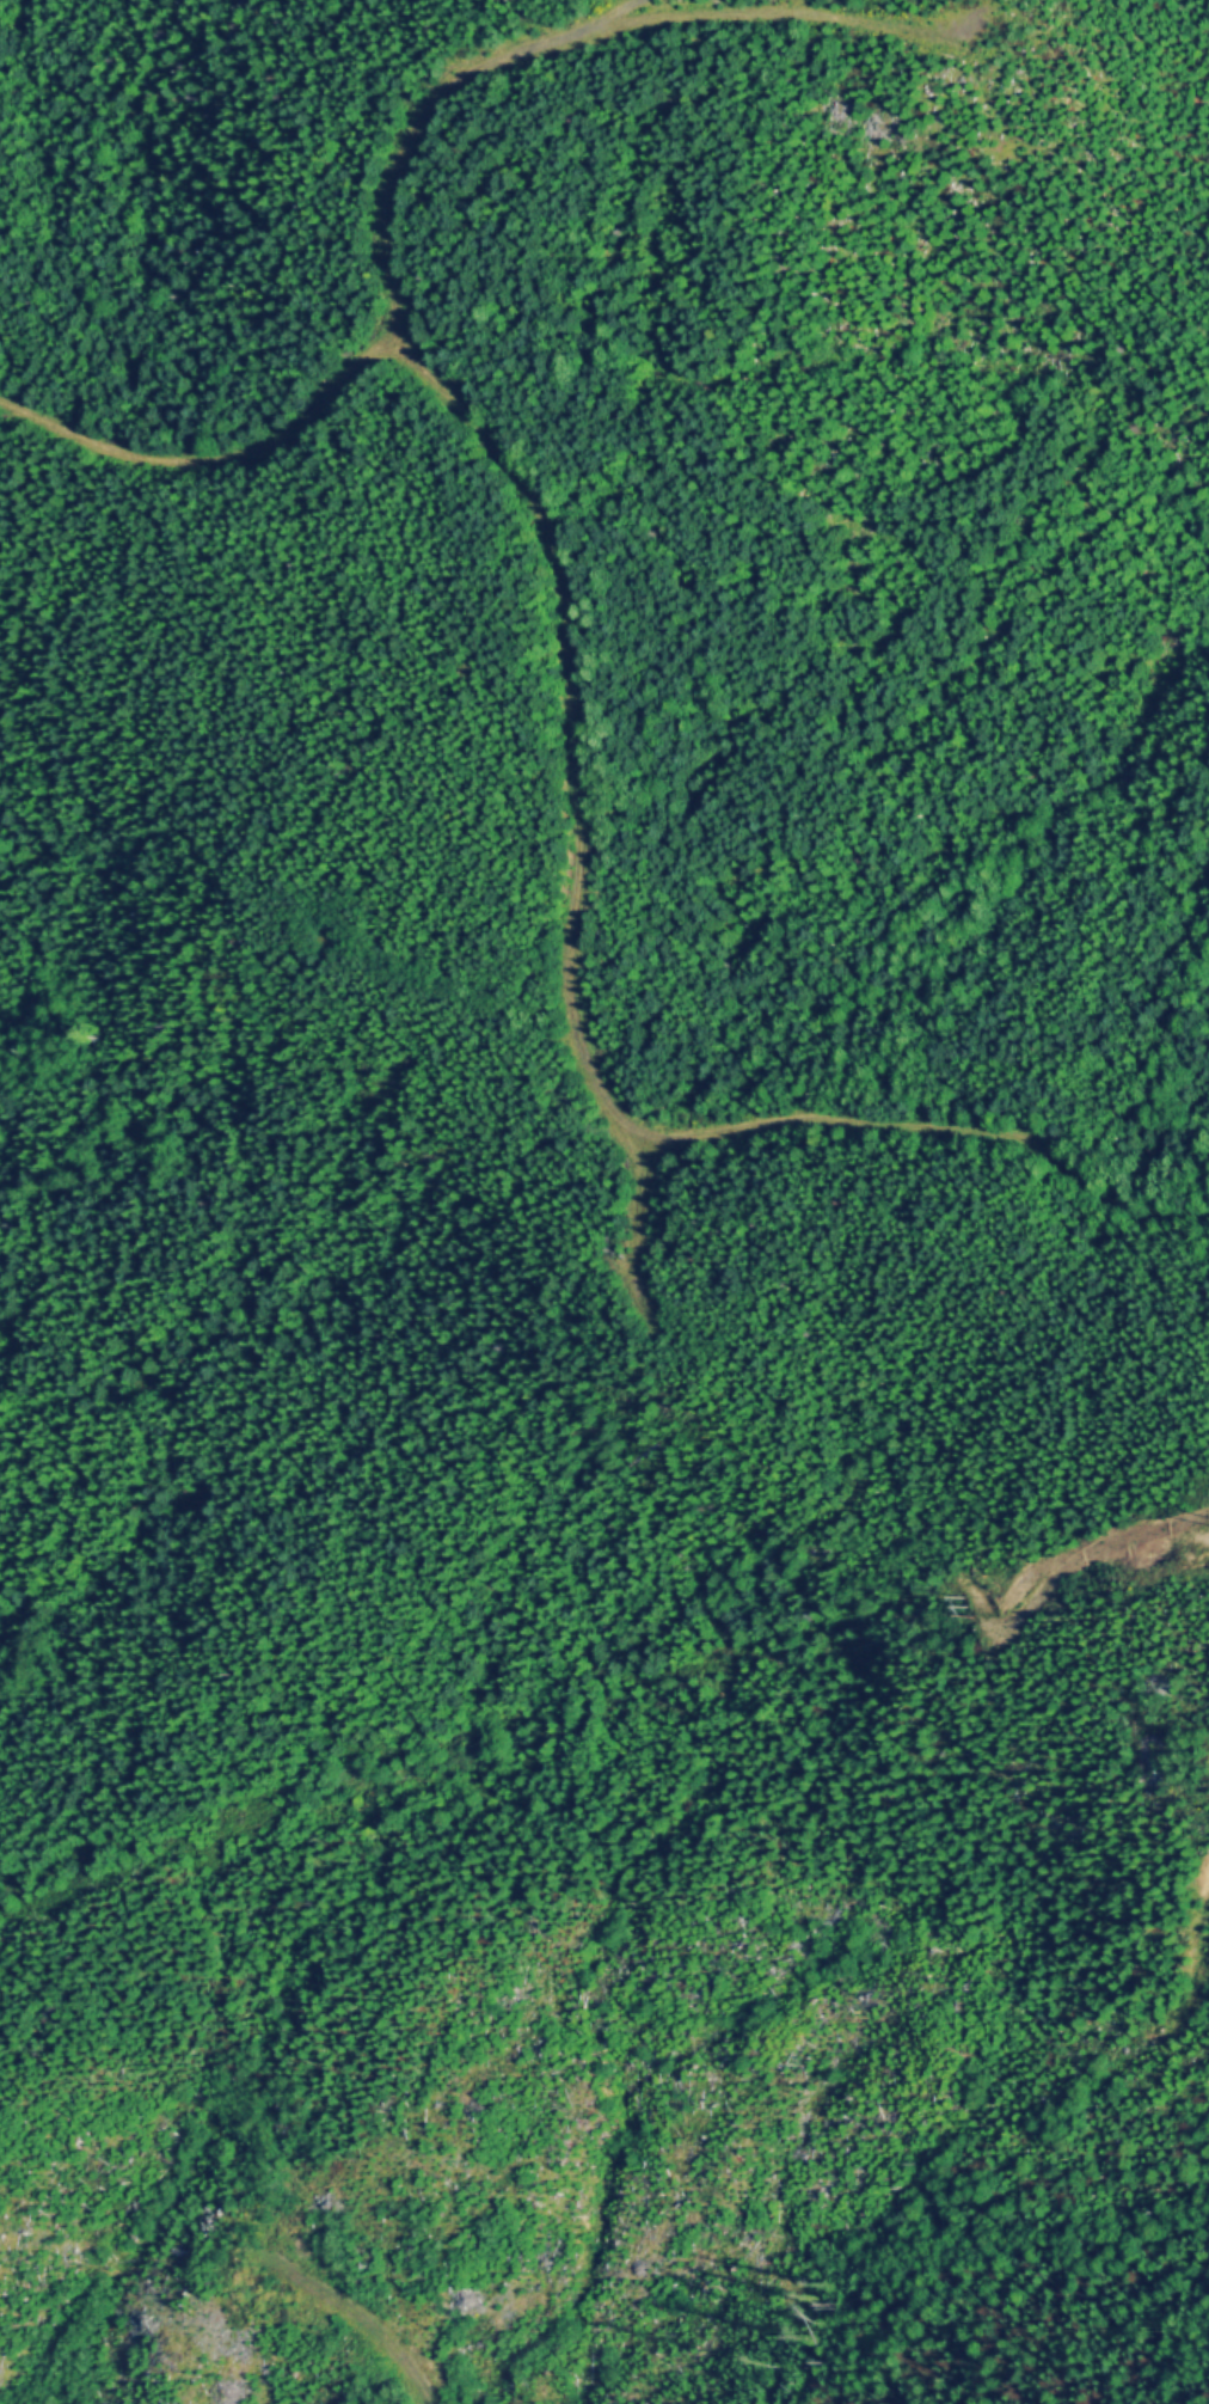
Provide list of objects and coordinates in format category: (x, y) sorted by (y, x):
road: (461, 102)
road: (513, 473)
road: (480, 1565)
road: (225, 1791)

